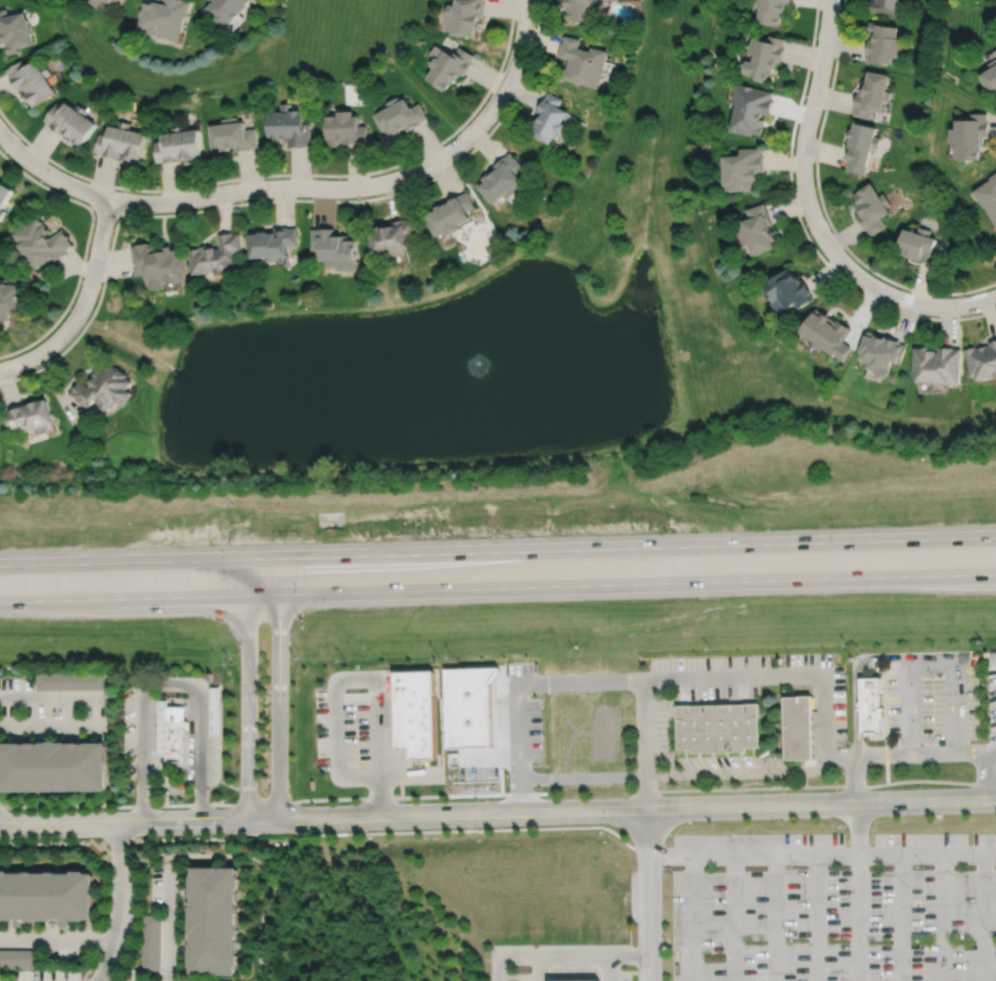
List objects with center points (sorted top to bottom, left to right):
building: (111, 1)
building: (96, 2)
building: (884, 7)
building: (224, 10)
building: (579, 11)
building: (770, 12)
building: (164, 17)
building: (464, 17)
street lamp: (534, 26)
building: (13, 29)
building: (881, 43)
building: (764, 54)
building: (582, 61)
building: (447, 65)
building: (990, 74)
building: (31, 79)
building: (870, 92)
building: (749, 107)
building: (398, 115)
road: (809, 115)
building: (550, 117)
building: (70, 120)
building: (289, 125)
building: (342, 128)
building: (233, 134)
building: (969, 134)
street lamp: (19, 139)
building: (121, 140)
building: (178, 144)
building: (859, 145)
building: (741, 168)
street lamp: (386, 172)
road: (49, 173)
building: (502, 178)
street lamp: (264, 179)
road: (370, 186)
street lamp: (150, 193)
building: (988, 194)
building: (3, 195)
building: (870, 207)
building: (450, 213)
street lamp: (93, 223)
road: (802, 226)
building: (756, 229)
building: (392, 237)
building: (40, 242)
building: (273, 242)
building: (919, 245)
building: (333, 248)
building: (217, 254)
building: (159, 264)
building: (786, 290)
road: (894, 296)
building: (8, 300)
road: (82, 304)
street lamp: (71, 306)
building: (825, 333)
building: (880, 352)
building: (982, 360)
building: (936, 364)
fountain: (444, 368)
building: (103, 388)
building: (29, 417)
road: (620, 548)
traffic signals: (278, 559)
traffic signals: (245, 560)
road: (122, 562)
road: (245, 577)
road: (620, 584)
traffic signals: (278, 594)
traffic signals: (246, 595)
road: (122, 597)
building: (992, 659)
road: (930, 660)
road: (791, 676)
building: (70, 680)
road: (855, 684)
road: (170, 685)
road: (518, 685)
road: (278, 689)
road: (337, 692)
parking lot: (933, 697)
road: (50, 698)
building: (870, 705)
road: (247, 707)
building: (216, 711)
building: (417, 713)
parking lot: (652, 723)
road: (51, 726)
building: (797, 727)
building: (162, 728)
building: (718, 728)
building: (177, 732)
parking lot: (362, 733)
road: (992, 752)
road: (191, 763)
building: (53, 767)
road: (737, 771)
road: (568, 776)
road: (989, 776)
road: (855, 779)
road: (637, 809)
road: (139, 823)
road: (856, 829)
road: (670, 855)
road: (711, 855)
road: (926, 855)
road: (648, 895)
building: (46, 896)
road: (120, 903)
parking lot: (833, 906)
road: (734, 918)
road: (775, 918)
road: (817, 918)
road: (856, 918)
road: (900, 918)
road: (942, 918)
road: (983, 918)
building: (215, 920)
road: (171, 925)
road: (55, 939)
building: (151, 941)
road: (354, 941)
road: (555, 957)
road: (631, 957)
building: (18, 958)
parking lot: (559, 962)
road: (540, 969)
building: (576, 980)

